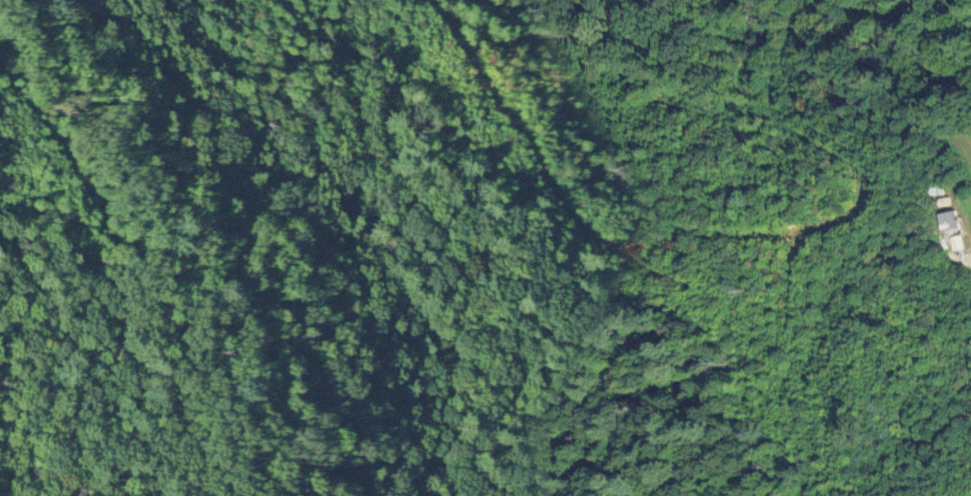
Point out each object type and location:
building: (949, 223)
building: (958, 245)

